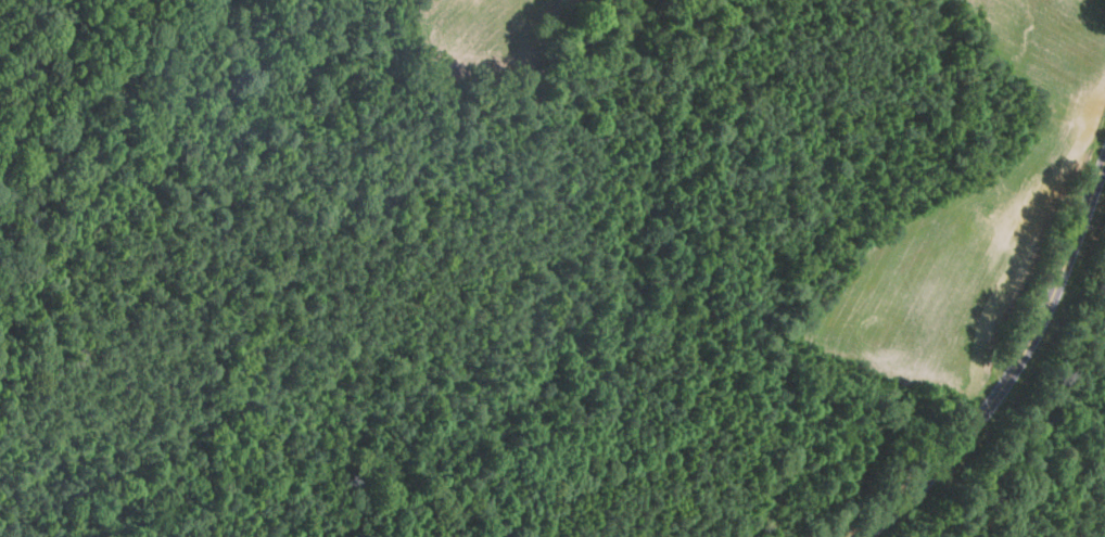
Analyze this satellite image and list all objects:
road: (1014, 368)

